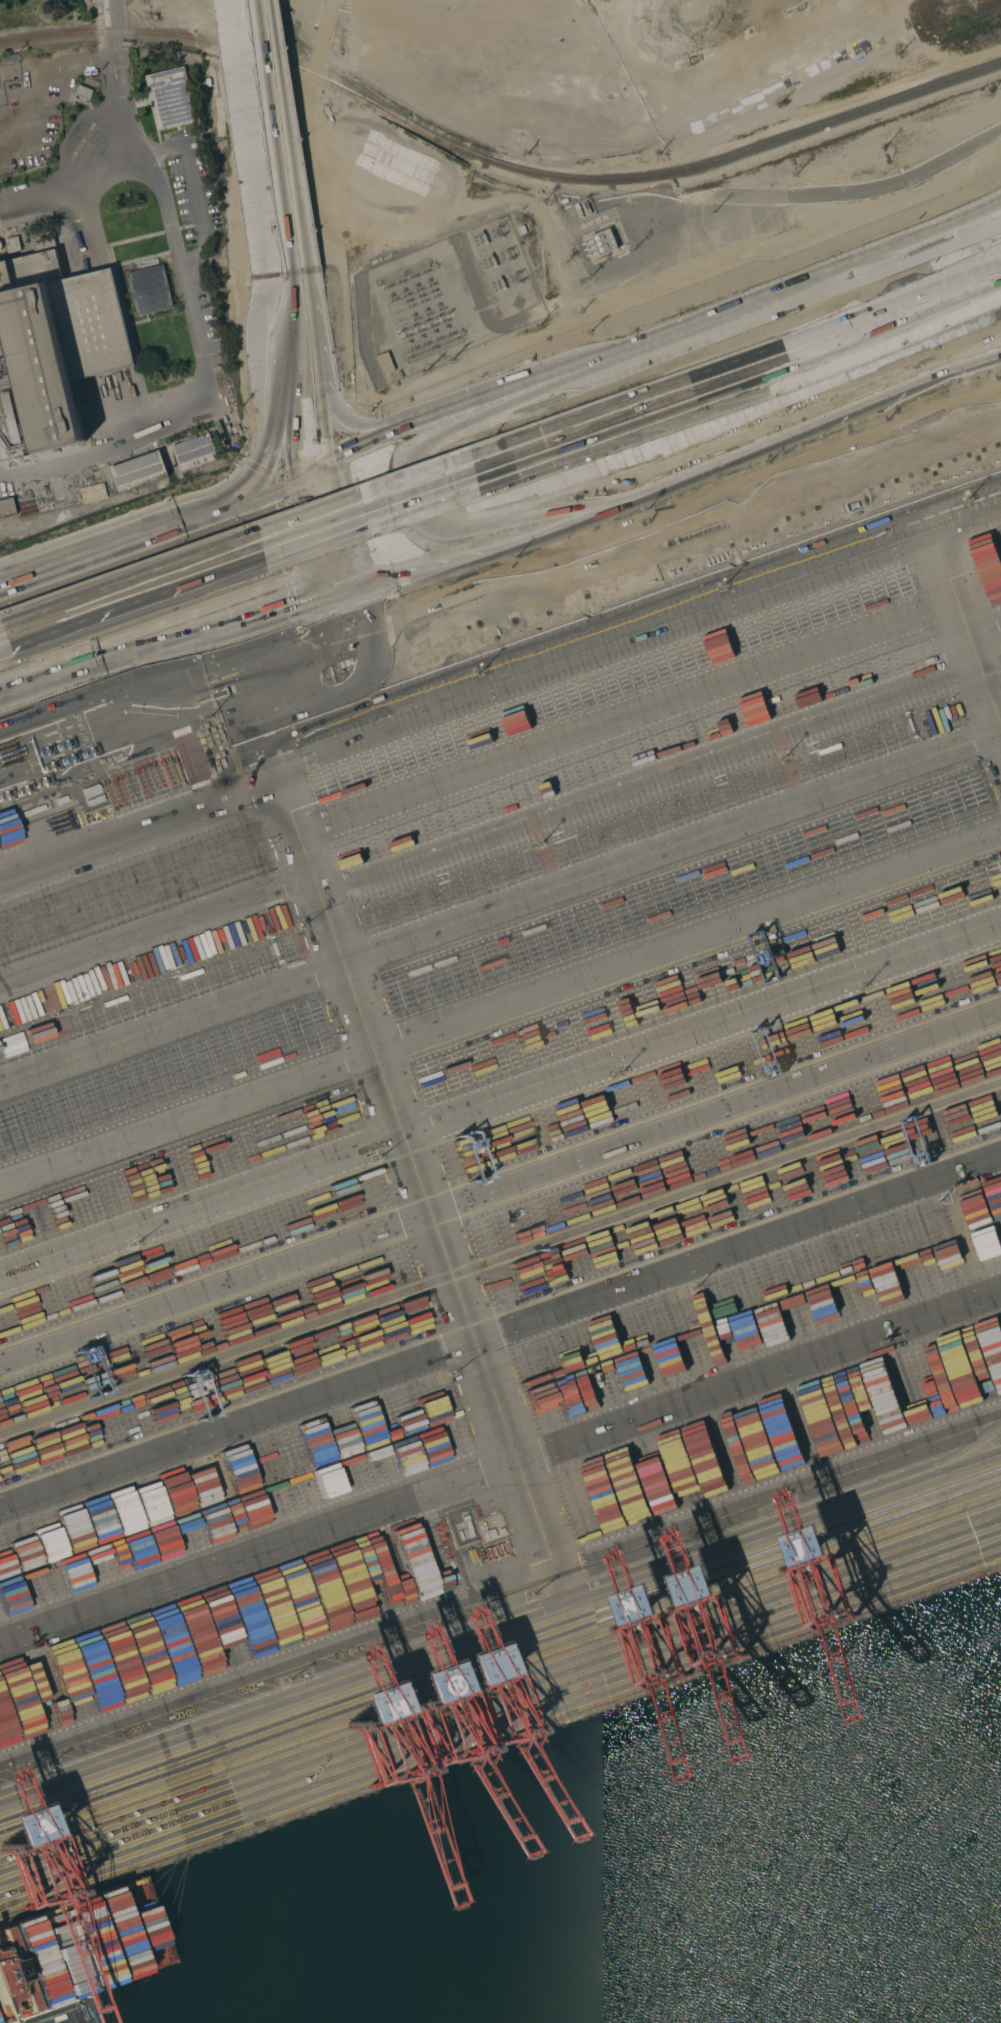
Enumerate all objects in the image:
road: (107, 16)
road: (101, 17)
railway: (208, 42)
road: (112, 54)
railway: (324, 67)
building: (84, 92)
building: (170, 97)
road: (116, 122)
road: (285, 136)
road: (252, 139)
railway: (704, 165)
road: (77, 178)
road: (195, 199)
road: (960, 220)
road: (960, 227)
building: (604, 241)
building: (12, 244)
building: (149, 290)
road: (776, 297)
power substation: (444, 301)
road: (892, 303)
building: (60, 338)
road: (883, 338)
building: (385, 363)
road: (315, 369)
road: (283, 378)
road: (203, 383)
road: (626, 403)
road: (418, 407)
road: (479, 408)
road: (273, 409)
road: (841, 411)
building: (9, 429)
road: (619, 432)
building: (194, 453)
traffic signals: (326, 465)
building: (139, 471)
road: (310, 471)
traffic signals: (295, 477)
building: (92, 492)
road: (251, 495)
road: (364, 495)
road: (405, 502)
building: (7, 507)
road: (369, 521)
road: (685, 521)
road: (341, 527)
road: (518, 532)
road: (309, 539)
road: (104, 550)
road: (129, 578)
traffic signals: (356, 590)
road: (339, 596)
traffic signals: (323, 602)
road: (137, 605)
road: (1, 624)
road: (968, 636)
road: (160, 645)
road: (5, 652)
road: (182, 674)
road: (500, 698)
road: (227, 709)
road: (500, 807)
road: (500, 909)
road: (500, 1012)
road: (500, 1104)
road: (415, 1181)
road: (500, 1184)
road: (500, 1333)
road: (500, 1472)
road: (500, 1604)

